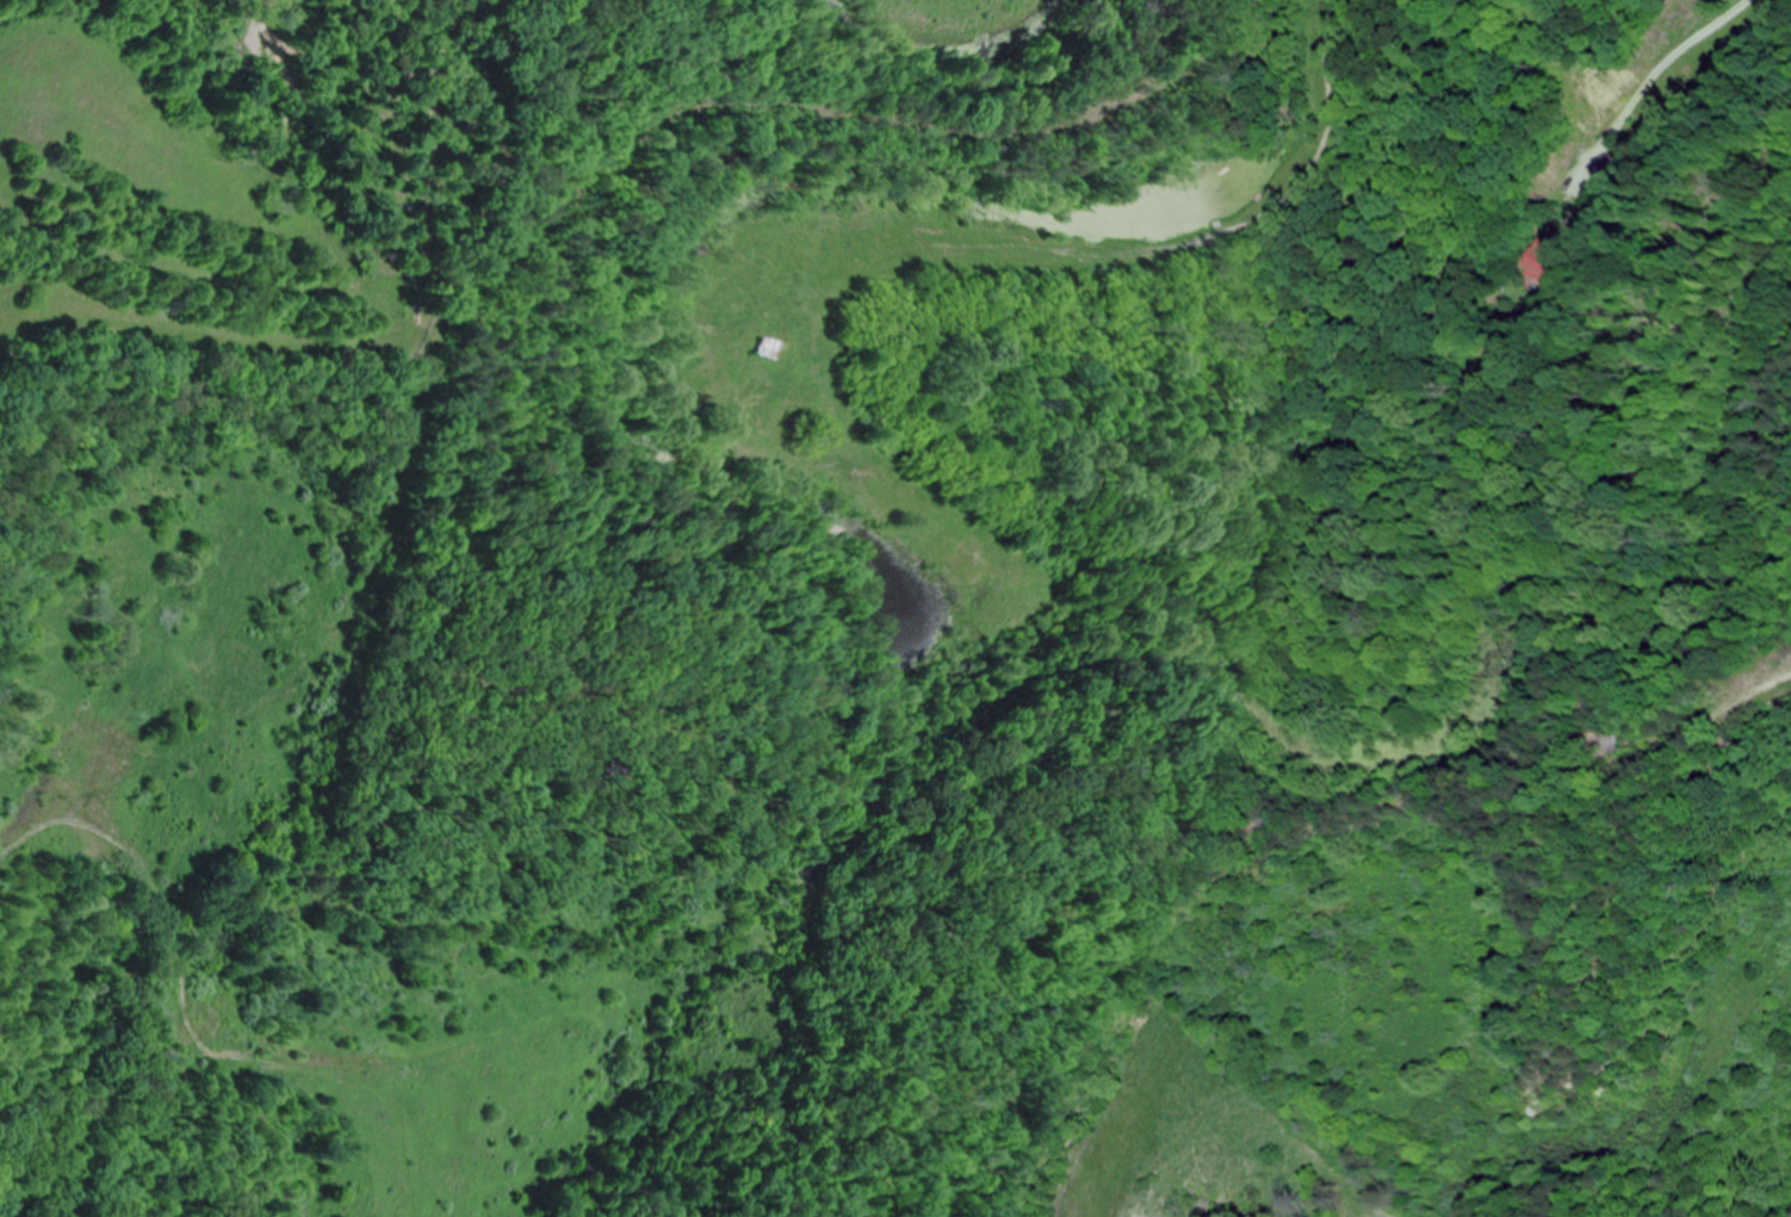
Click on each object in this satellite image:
road: (1641, 42)
building: (1536, 274)
building: (1611, 741)

